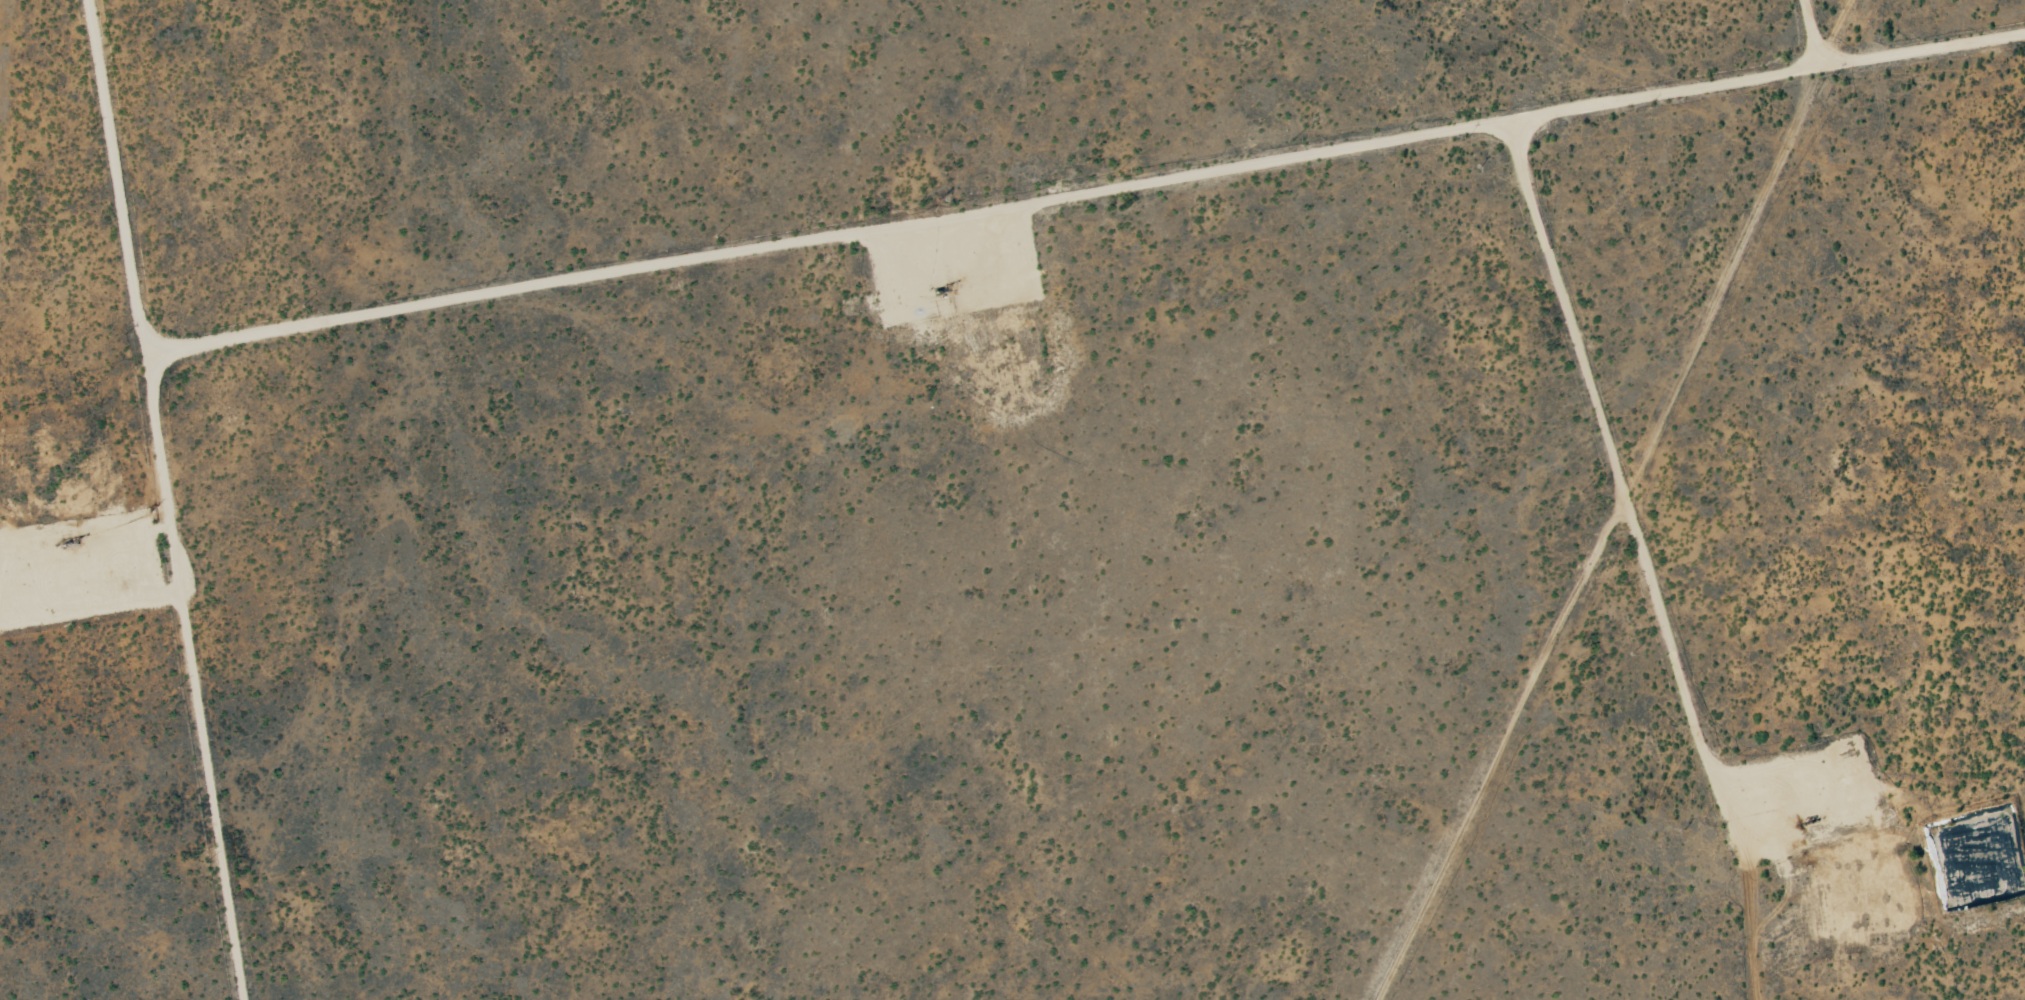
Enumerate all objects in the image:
road: (23, 898)

